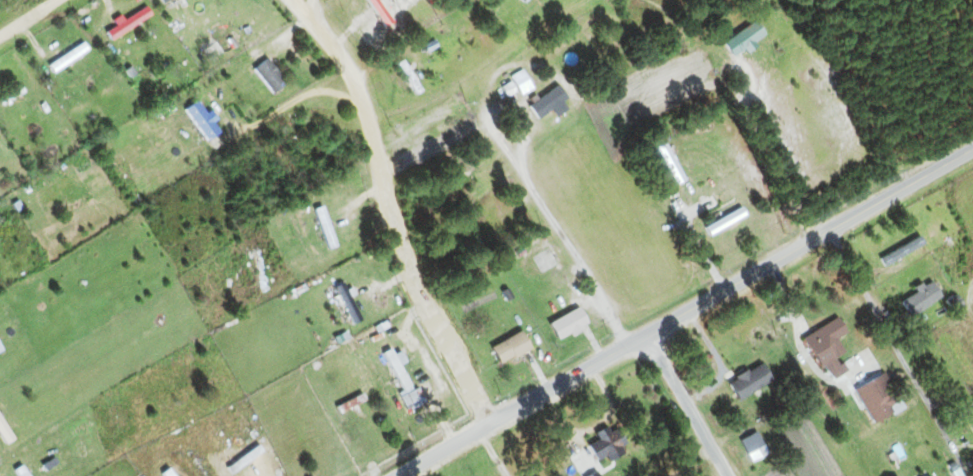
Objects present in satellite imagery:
building: (184, 0)
building: (380, 12)
road: (28, 17)
building: (131, 36)
building: (745, 40)
building: (68, 58)
building: (275, 76)
building: (409, 78)
building: (518, 84)
building: (14, 100)
building: (550, 104)
building: (205, 126)
building: (670, 162)
road: (390, 210)
building: (725, 220)
building: (902, 251)
road: (731, 287)
building: (922, 297)
building: (347, 303)
building: (568, 323)
building: (827, 344)
road: (896, 344)
building: (510, 347)
building: (402, 379)
building: (750, 380)
building: (879, 397)
road: (684, 407)
building: (5, 433)
building: (606, 443)
road: (443, 450)
building: (972, 452)

